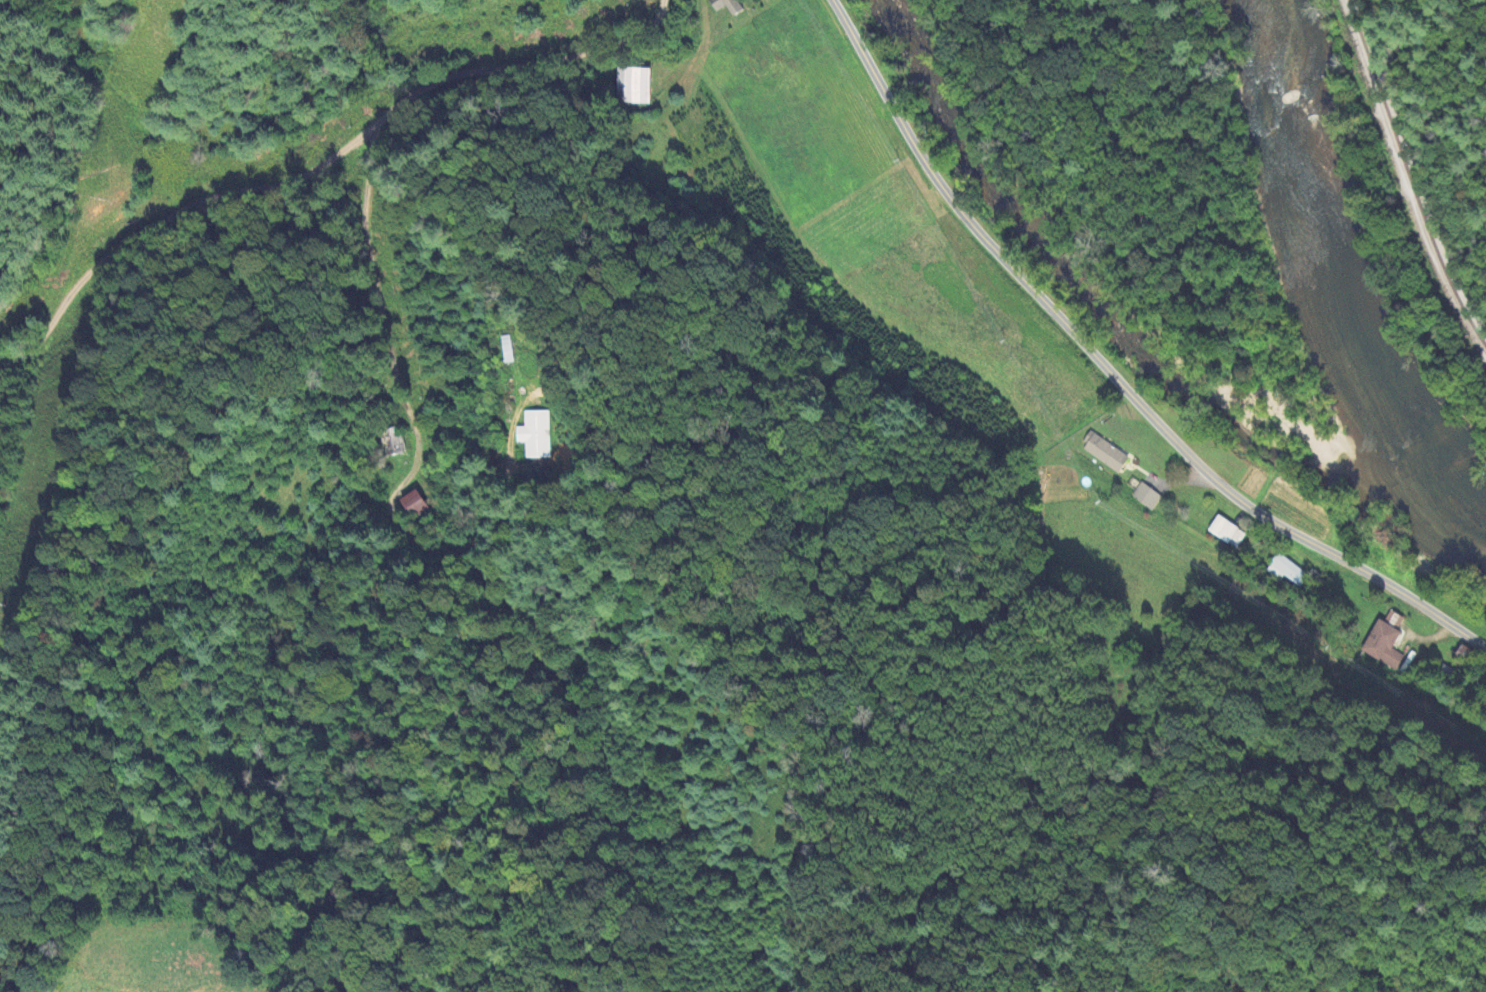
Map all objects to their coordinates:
building: (633, 87)
road: (320, 162)
railway: (1410, 174)
river: (1336, 286)
road: (1110, 374)
building: (535, 436)
building: (393, 444)
building: (413, 506)
building: (1222, 531)
building: (1284, 572)

